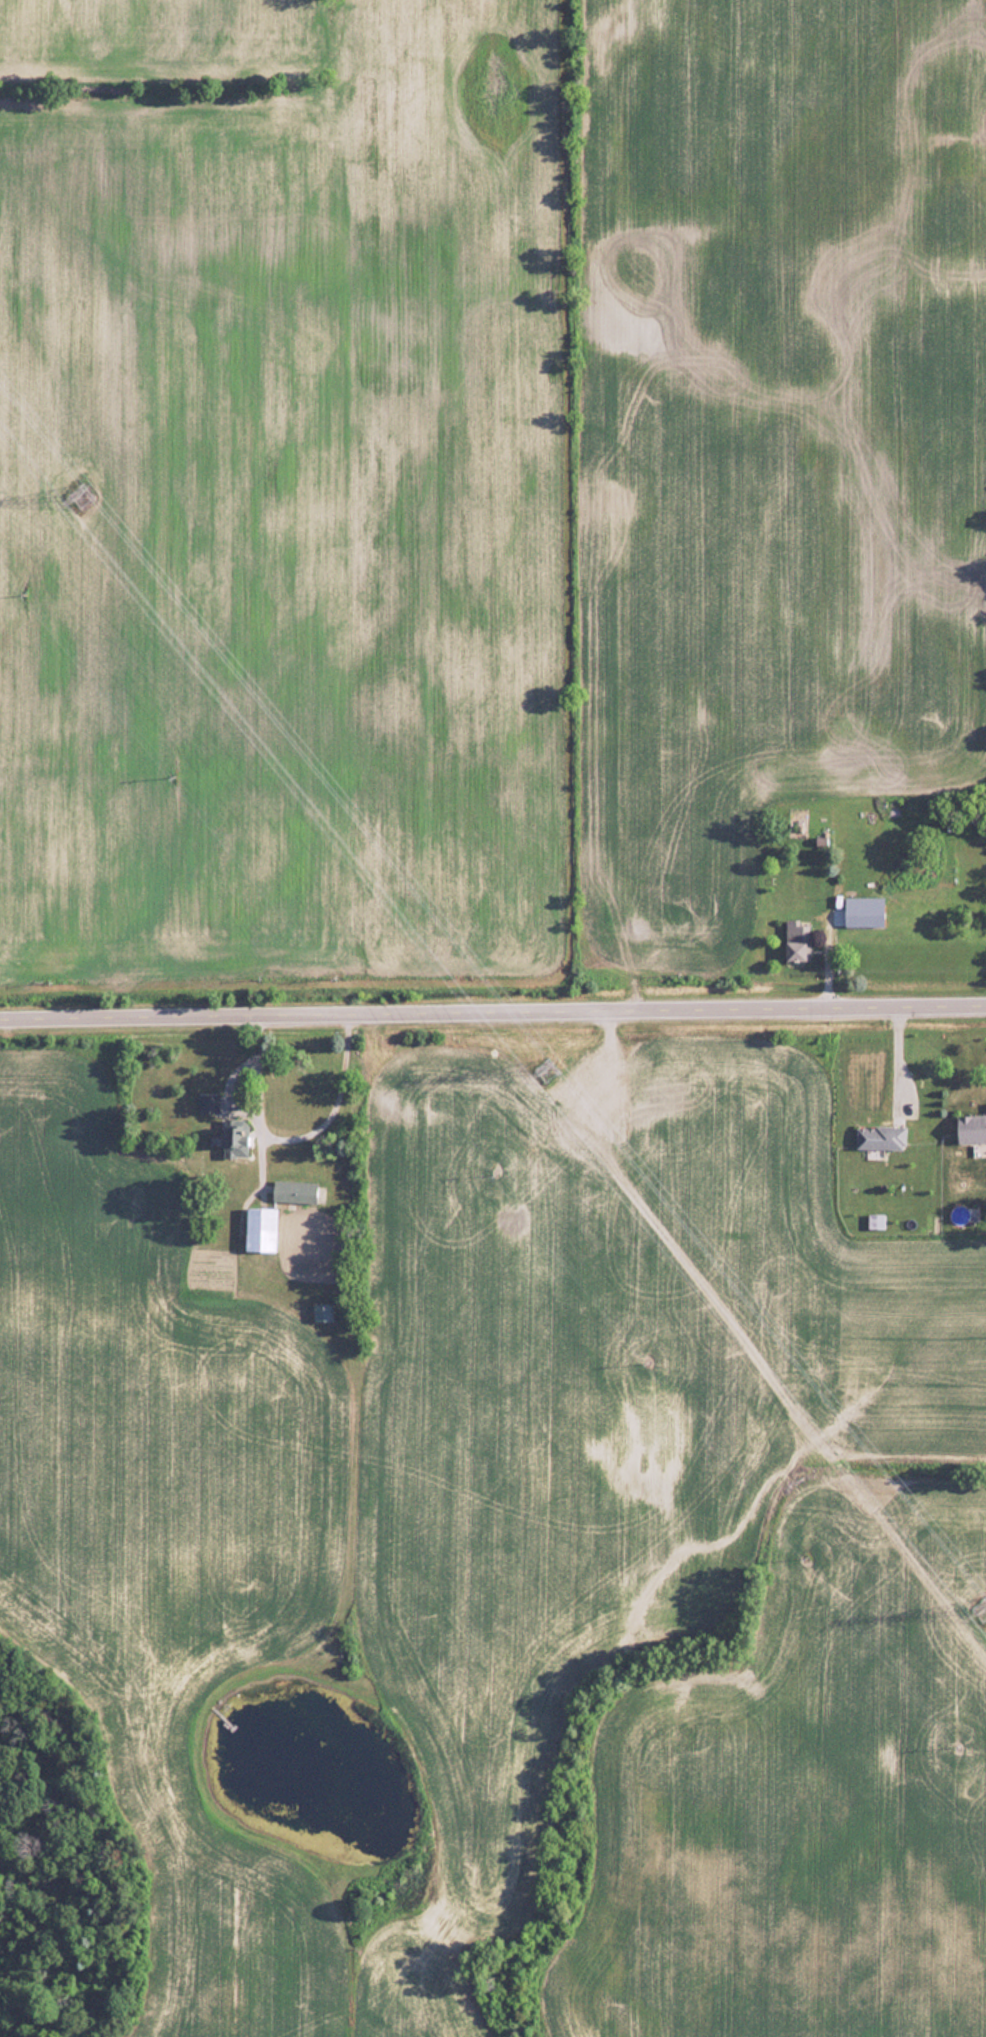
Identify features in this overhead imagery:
power tower: (82, 498)
building: (910, 871)
building: (799, 945)
road: (492, 1008)
road: (894, 1057)
power tower: (546, 1070)
building: (209, 1104)
building: (971, 1129)
building: (881, 1138)
road: (293, 1139)
building: (236, 1141)
building: (295, 1192)
building: (261, 1230)
building: (323, 1312)
power tower: (985, 1611)

